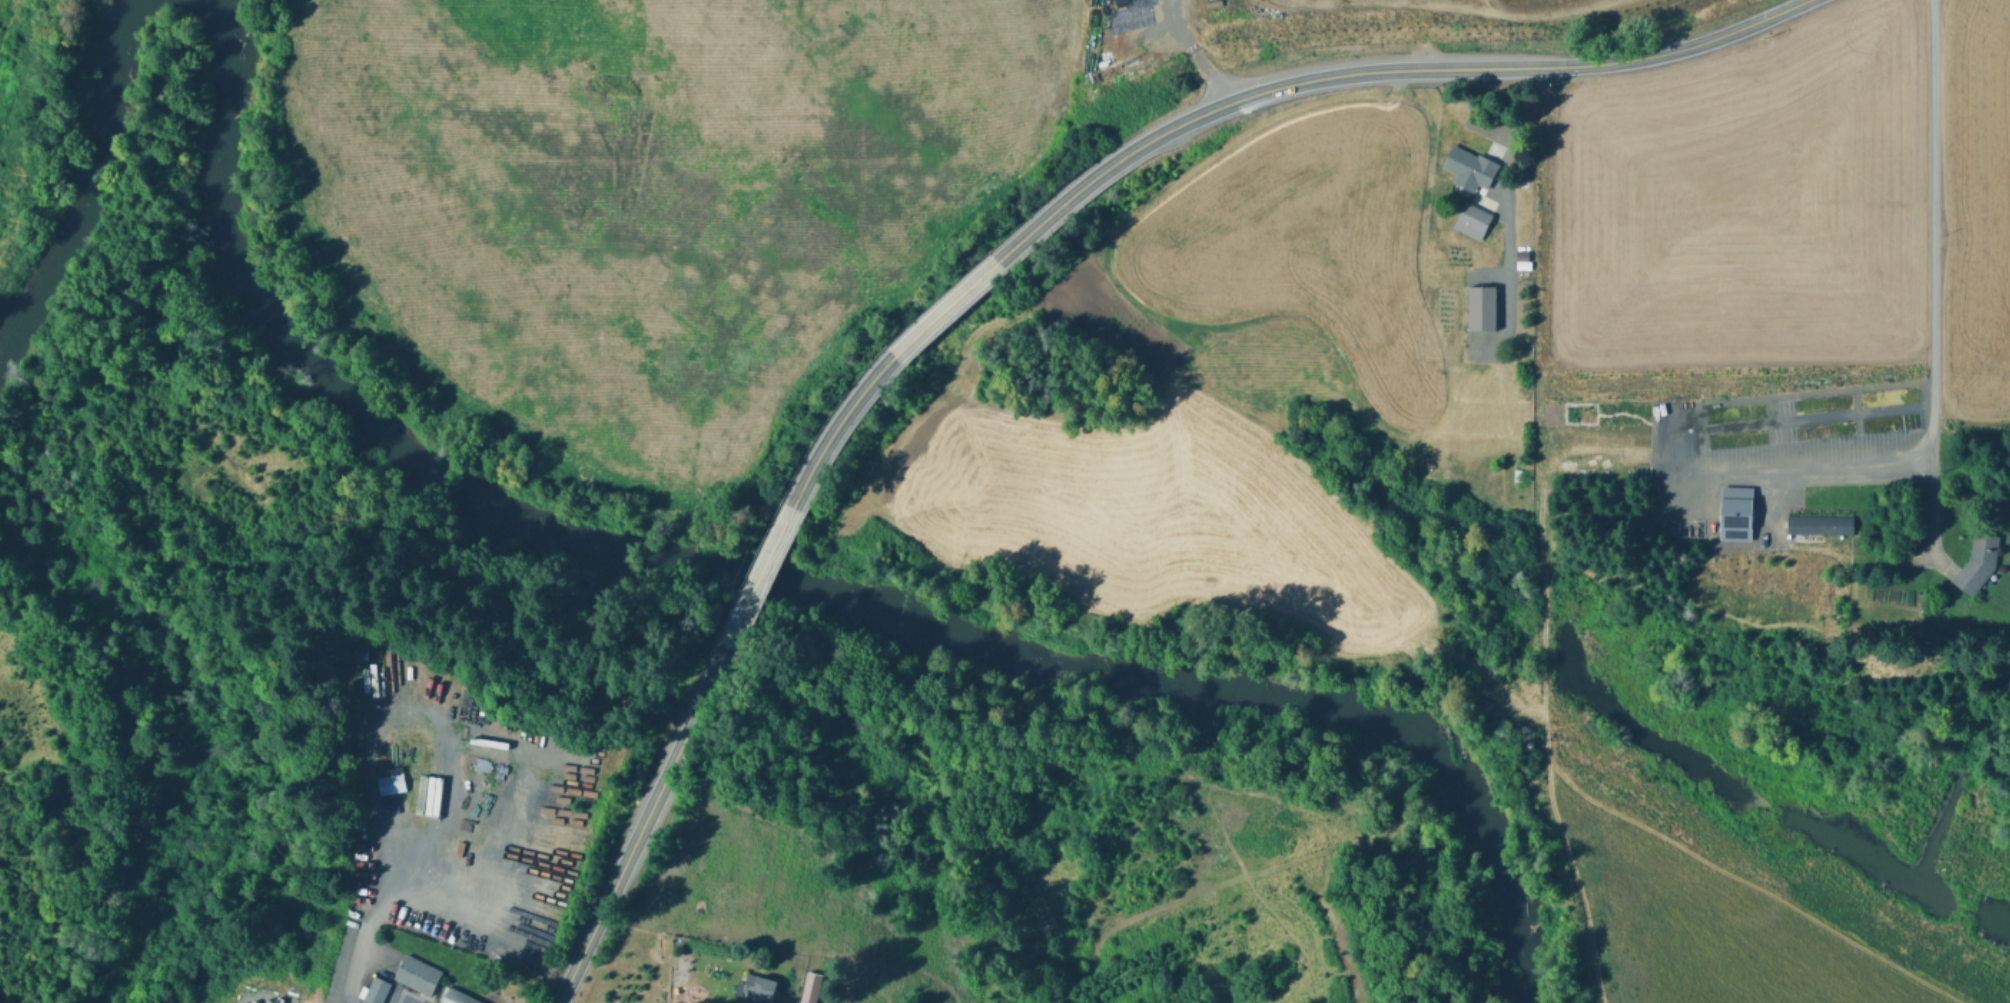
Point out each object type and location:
landfill: (1444, 10)
road: (1194, 53)
road: (1379, 69)
river: (76, 154)
building: (1471, 168)
crop: (1744, 201)
crop: (1974, 210)
road: (1504, 214)
building: (1474, 221)
building: (1520, 254)
road: (1931, 277)
building: (1482, 307)
road: (946, 308)
crop: (1201, 397)
road: (837, 426)
road: (1600, 466)
building: (1518, 474)
building: (1733, 512)
building: (1816, 524)
building: (1979, 563)
road: (761, 575)
river: (798, 588)
road: (417, 704)
building: (393, 784)
road: (642, 824)
road: (499, 825)
road: (1573, 876)
road: (1747, 883)
road: (359, 948)
building: (419, 975)
building: (761, 987)
building: (809, 987)
building: (376, 990)
building: (458, 996)
building: (766, 1002)

